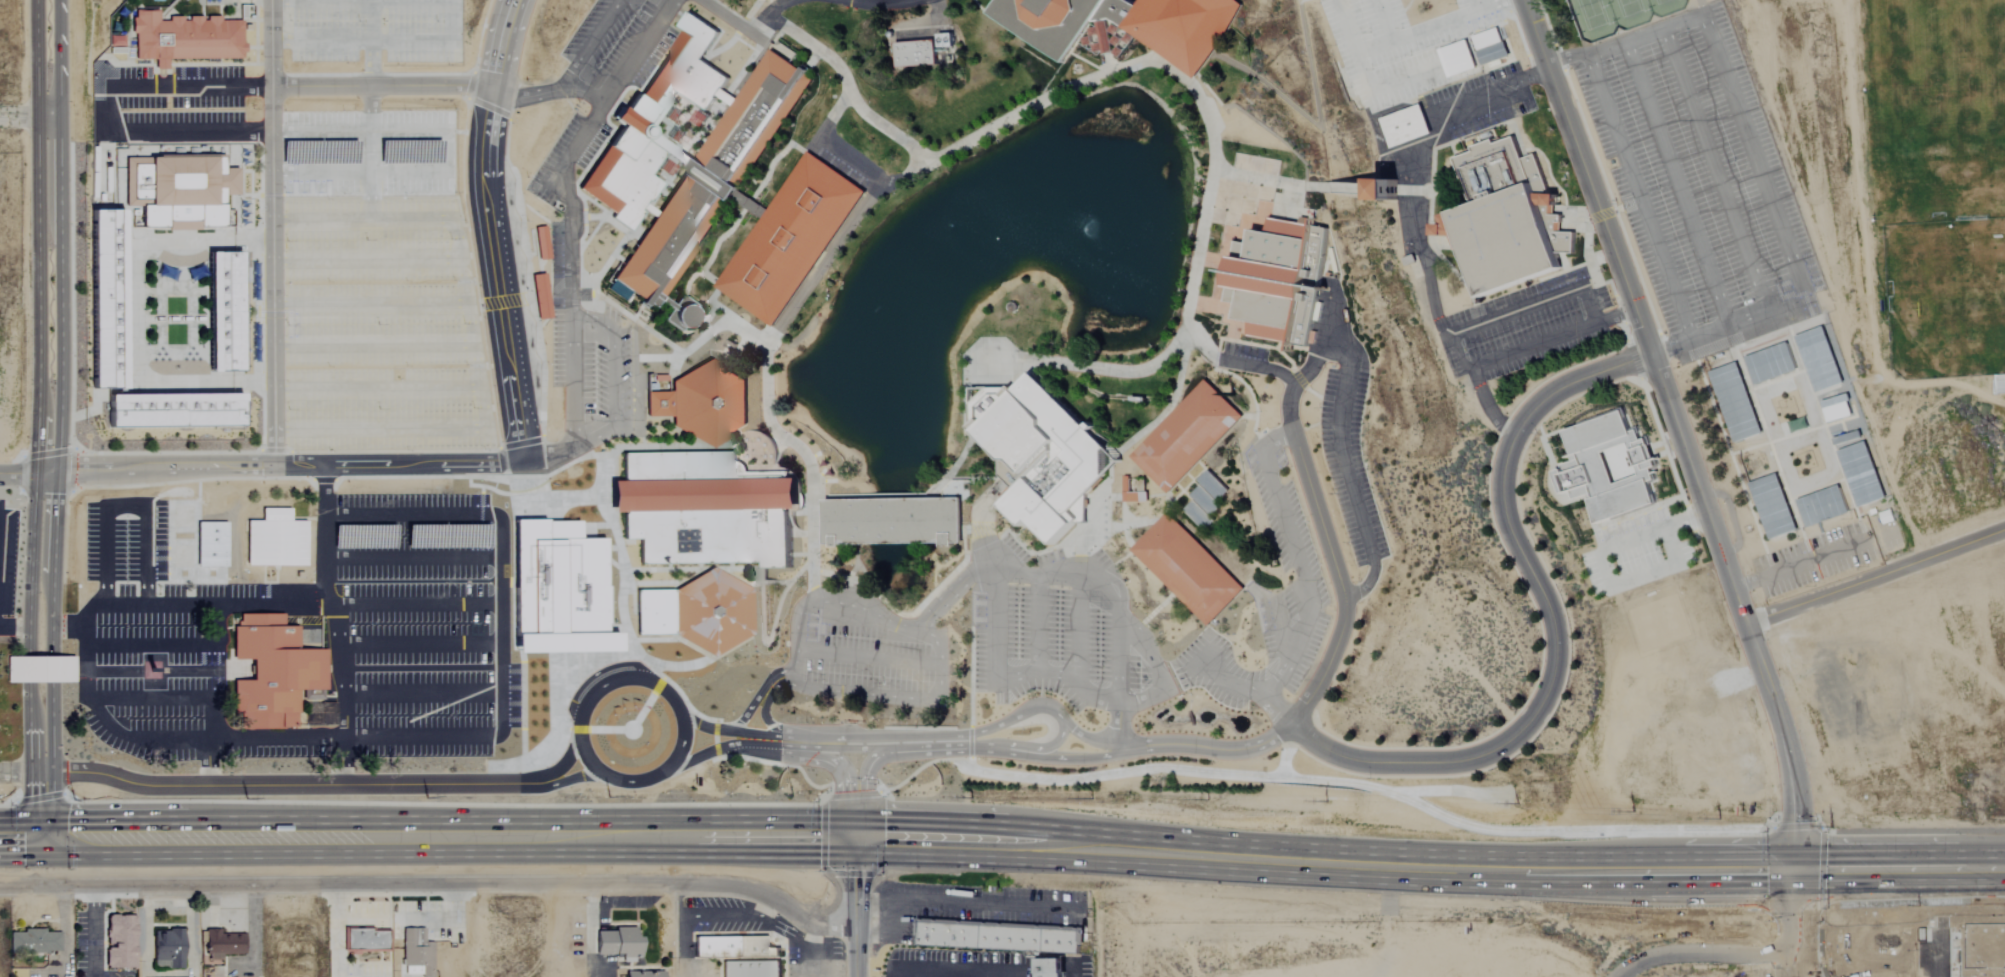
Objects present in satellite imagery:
road: (881, 2)
road: (362, 3)
road: (937, 9)
road: (728, 10)
park: (1618, 15)
road: (372, 19)
road: (457, 19)
building: (1050, 21)
road: (753, 26)
road: (746, 28)
building: (1181, 28)
parking lot: (375, 29)
building: (1107, 29)
building: (186, 37)
road: (1633, 39)
road: (363, 40)
building: (116, 41)
road: (503, 42)
road: (269, 43)
road: (589, 43)
parking lot: (1395, 45)
building: (1490, 46)
road: (636, 48)
building: (923, 51)
building: (1457, 58)
road: (810, 61)
road: (372, 62)
road: (1108, 63)
road: (381, 85)
road: (1491, 89)
road: (546, 92)
road: (852, 96)
road: (106, 109)
parking lot: (591, 114)
road: (24, 116)
building: (636, 121)
road: (826, 122)
road: (1318, 125)
building: (1405, 125)
road: (1211, 130)
road: (357, 132)
road: (444, 152)
road: (368, 153)
road: (1714, 170)
road: (357, 174)
road: (1587, 175)
parking lot: (1697, 175)
road: (1292, 184)
road: (1675, 184)
building: (710, 186)
park: (1936, 187)
building: (1383, 189)
road: (1430, 189)
building: (177, 191)
road: (1636, 196)
road: (749, 199)
road: (566, 206)
building: (1504, 218)
fountain: (1086, 228)
road: (1783, 232)
road: (47, 234)
fountain: (997, 237)
building: (789, 238)
building: (541, 243)
road: (834, 246)
road: (364, 258)
road: (272, 274)
road: (496, 274)
road: (708, 276)
building: (1277, 279)
parking lot: (377, 286)
building: (540, 297)
building: (106, 301)
road: (368, 305)
road: (714, 306)
road: (1518, 309)
building: (224, 314)
road: (628, 315)
road: (1335, 316)
parking lot: (1528, 326)
road: (469, 335)
road: (704, 335)
road: (371, 343)
road: (739, 343)
road: (1269, 346)
road: (1466, 349)
road: (1019, 358)
building: (1818, 359)
parking lot: (594, 360)
road: (612, 361)
building: (1770, 363)
road: (1309, 366)
road: (673, 367)
road: (1260, 367)
road: (1235, 377)
road: (572, 382)
road: (374, 389)
building: (1735, 402)
building: (658, 403)
building: (709, 403)
building: (1836, 409)
building: (174, 412)
road: (1248, 416)
building: (1185, 436)
road: (616, 448)
road: (570, 450)
road: (778, 452)
building: (1041, 453)
road: (808, 460)
road: (399, 462)
parking lot: (1349, 463)
road: (524, 465)
road: (160, 466)
road: (1201, 466)
building: (1606, 467)
road: (1345, 468)
road: (23, 470)
road: (1140, 473)
building: (1860, 474)
road: (1192, 480)
building: (1125, 483)
building: (1212, 484)
road: (1185, 485)
road: (1183, 492)
road: (602, 496)
road: (873, 496)
building: (1134, 496)
building: (1205, 500)
road: (124, 505)
building: (1821, 505)
building: (1772, 506)
parking lot: (1282, 507)
building: (703, 510)
building: (1197, 514)
building: (892, 518)
road: (1155, 520)
parking lot: (412, 535)
building: (275, 539)
road: (629, 542)
road: (1205, 542)
road: (1670, 542)
road: (1600, 548)
parking lot: (1634, 551)
road: (411, 556)
road: (1123, 557)
road: (1297, 561)
road: (722, 568)
road: (954, 569)
building: (1186, 569)
road: (830, 573)
road: (1078, 574)
road: (1875, 576)
road: (1339, 577)
road: (1159, 578)
road: (693, 583)
road: (1365, 585)
road: (499, 593)
road: (216, 602)
road: (827, 603)
road: (419, 604)
road: (1739, 606)
road: (1189, 608)
building: (698, 612)
road: (631, 618)
road: (1552, 621)
road: (1036, 622)
road: (22, 625)
parking lot: (1043, 625)
road: (339, 628)
road: (1078, 628)
parking lot: (1293, 628)
road: (1278, 637)
road: (768, 639)
road: (419, 642)
road: (172, 643)
road: (43, 654)
road: (867, 658)
parking lot: (861, 659)
road: (1198, 661)
parking lot: (419, 662)
road: (424, 668)
building: (39, 670)
road: (128, 670)
building: (272, 672)
road: (1157, 672)
road: (1004, 680)
road: (1246, 689)
road: (420, 693)
road: (757, 695)
road: (167, 696)
road: (898, 698)
road: (762, 712)
road: (340, 726)
road: (1196, 727)
road: (917, 736)
road: (168, 738)
road: (1056, 743)
road: (808, 746)
road: (930, 749)
road: (1219, 749)
road: (1288, 749)
road: (584, 750)
road: (694, 757)
road: (1056, 758)
road: (818, 760)
road: (209, 761)
road: (554, 771)
road: (21, 772)
road: (559, 780)
road: (1380, 784)
road: (279, 785)
road: (865, 788)
road: (1900, 827)
traffic signals: (855, 836)
road: (919, 839)
road: (21, 840)
traffic signals: (43, 840)
traffic signals: (1796, 867)
road: (1900, 867)
road: (433, 885)
road: (875, 899)
road: (989, 904)
road: (855, 906)
road: (710, 918)
road: (896, 918)
road: (337, 931)
road: (94, 932)
road: (875, 935)
building: (997, 938)
building: (365, 940)
building: (34, 941)
building: (119, 941)
building: (618, 943)
building: (222, 945)
building: (733, 947)
building: (167, 948)
building: (416, 951)
road: (811, 951)
road: (1743, 955)
building: (1050, 967)
building: (750, 969)
building: (644, 974)
road: (968, 975)

